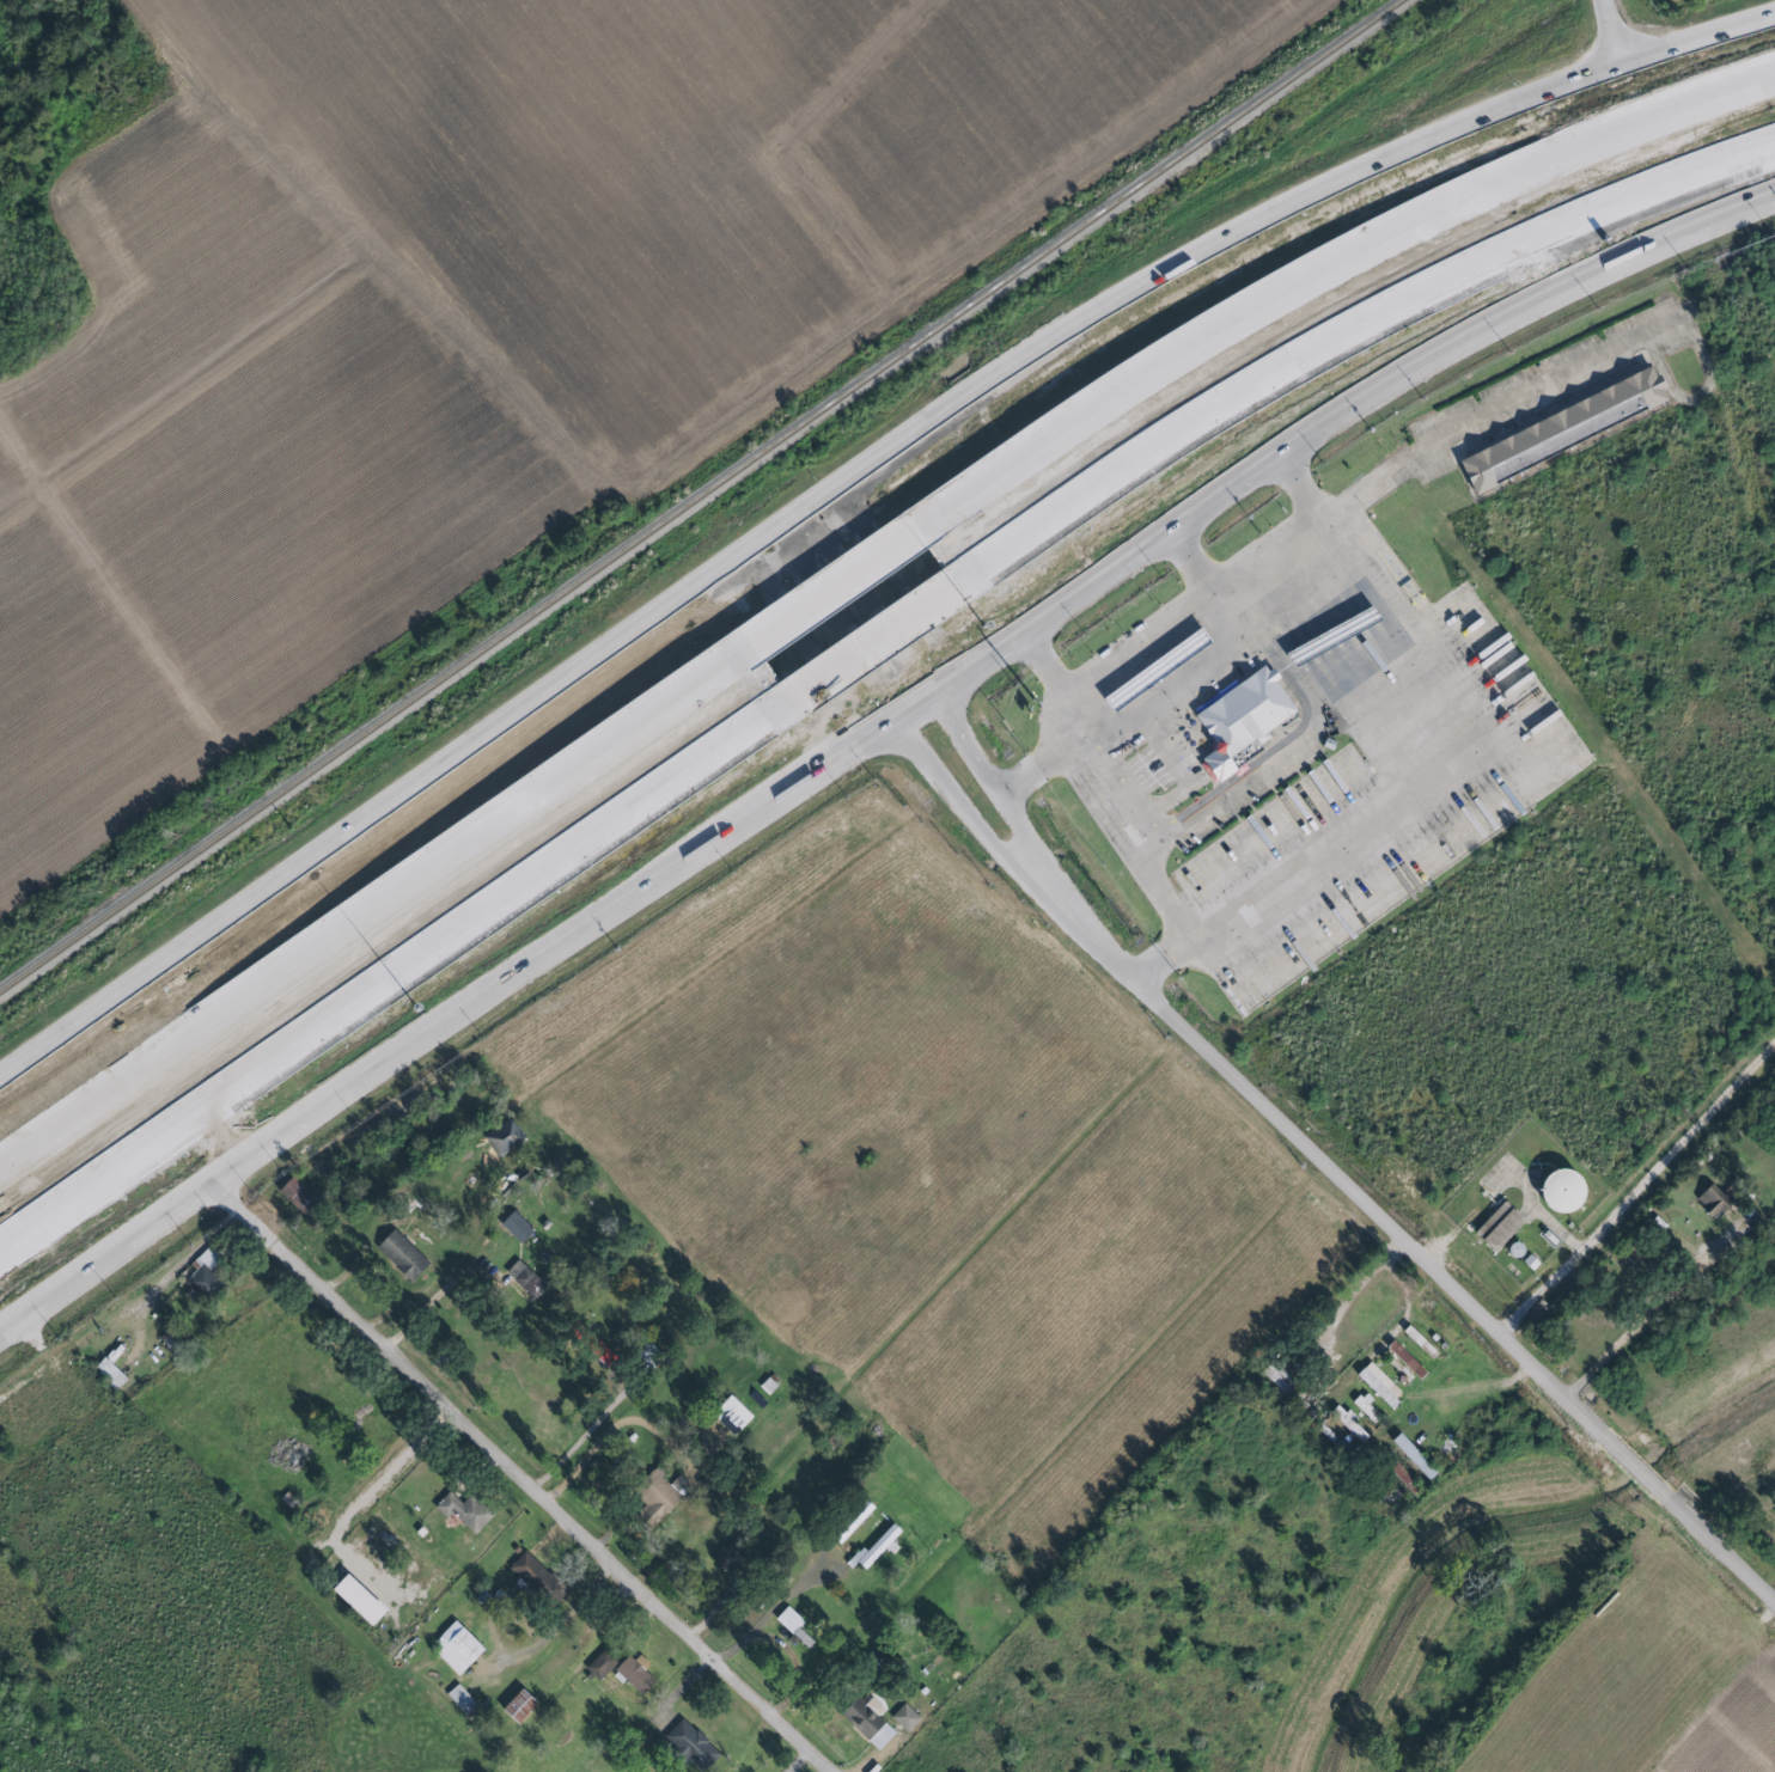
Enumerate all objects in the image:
road: (1609, 26)
road: (1330, 274)
road: (1350, 338)
building: (1551, 440)
road: (850, 476)
road: (1295, 493)
railway: (699, 496)
road: (1354, 496)
road: (1189, 567)
road: (896, 573)
building: (832, 587)
road: (831, 592)
road: (1249, 605)
building: (1330, 637)
gas station: (1330, 637)
building: (872, 644)
road: (868, 648)
road: (901, 653)
road: (787, 658)
road: (1288, 667)
road: (1362, 668)
building: (1164, 670)
gas station: (1164, 670)
building: (1248, 719)
road: (901, 731)
road: (872, 740)
road: (1084, 746)
road: (1035, 764)
road: (1453, 768)
road: (469, 839)
road: (1030, 854)
road: (1177, 924)
road: (385, 972)
road: (99, 1100)
building: (507, 1136)
road: (1328, 1169)
building: (1555, 1186)
silo: (1555, 1186)
road: (1639, 1192)
building: (1713, 1203)
building: (520, 1228)
building: (1494, 1228)
road: (188, 1251)
building: (407, 1255)
building: (207, 1276)
building: (527, 1278)
road: (1346, 1300)
road: (431, 1306)
road: (1655, 1313)
building: (598, 1348)
building: (1402, 1359)
building: (1373, 1389)
building: (1364, 1409)
building: (736, 1416)
building: (1346, 1424)
road: (574, 1442)
building: (1410, 1458)
road: (1630, 1462)
building: (1399, 1478)
road: (513, 1479)
building: (664, 1497)
building: (466, 1511)
road: (1719, 1548)
building: (731, 1556)
building: (538, 1577)
building: (365, 1600)
road: (764, 1620)
building: (792, 1620)
building: (460, 1648)
building: (604, 1664)
building: (639, 1674)
building: (464, 1700)
building: (526, 1706)
building: (907, 1718)
building: (868, 1723)
building: (694, 1744)

